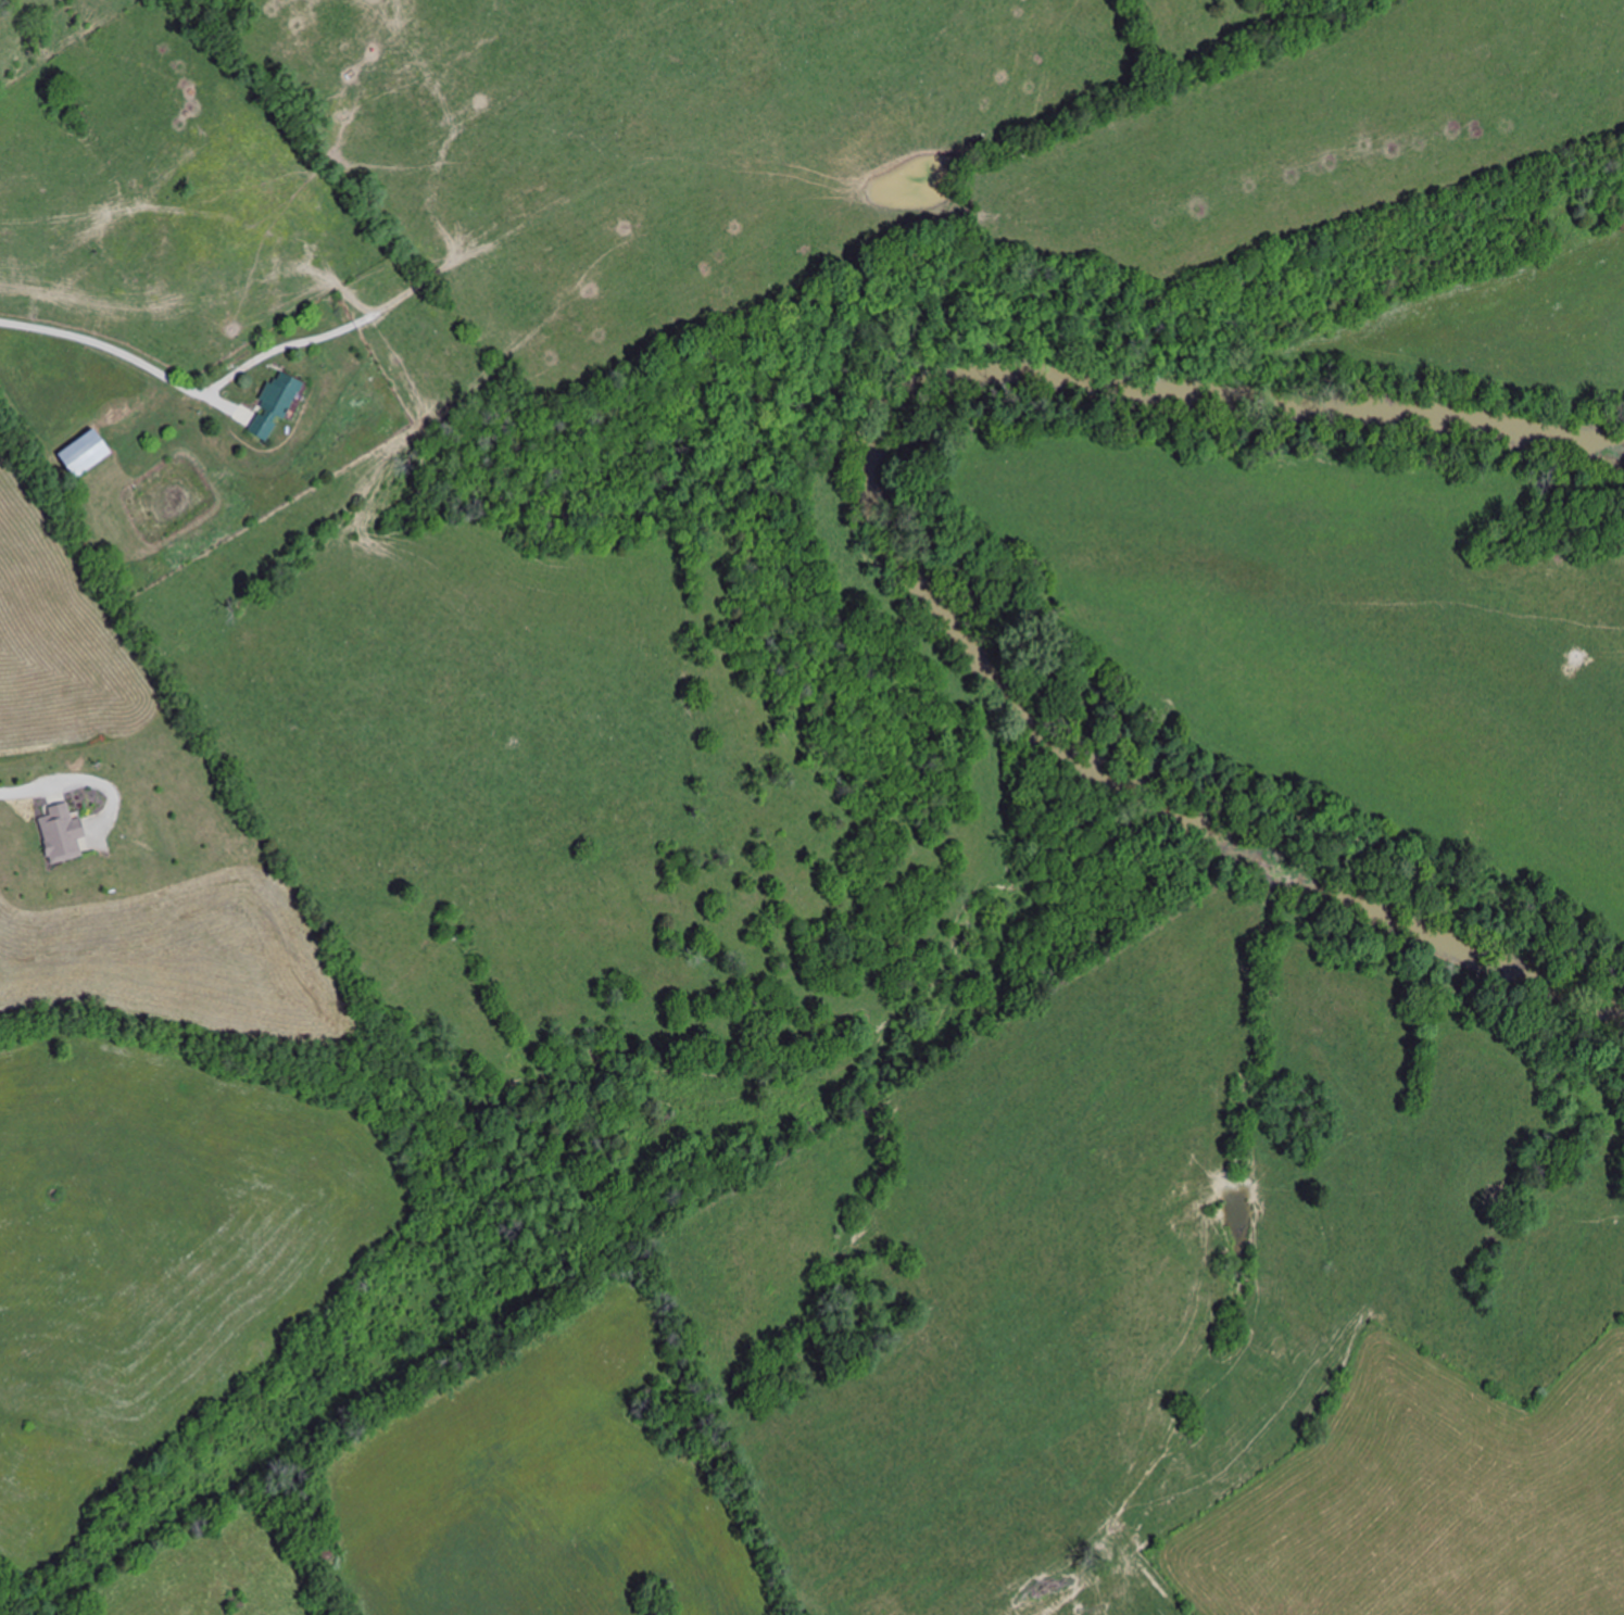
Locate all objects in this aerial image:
road: (124, 351)
building: (281, 404)
building: (92, 453)
river: (882, 526)
building: (67, 835)

